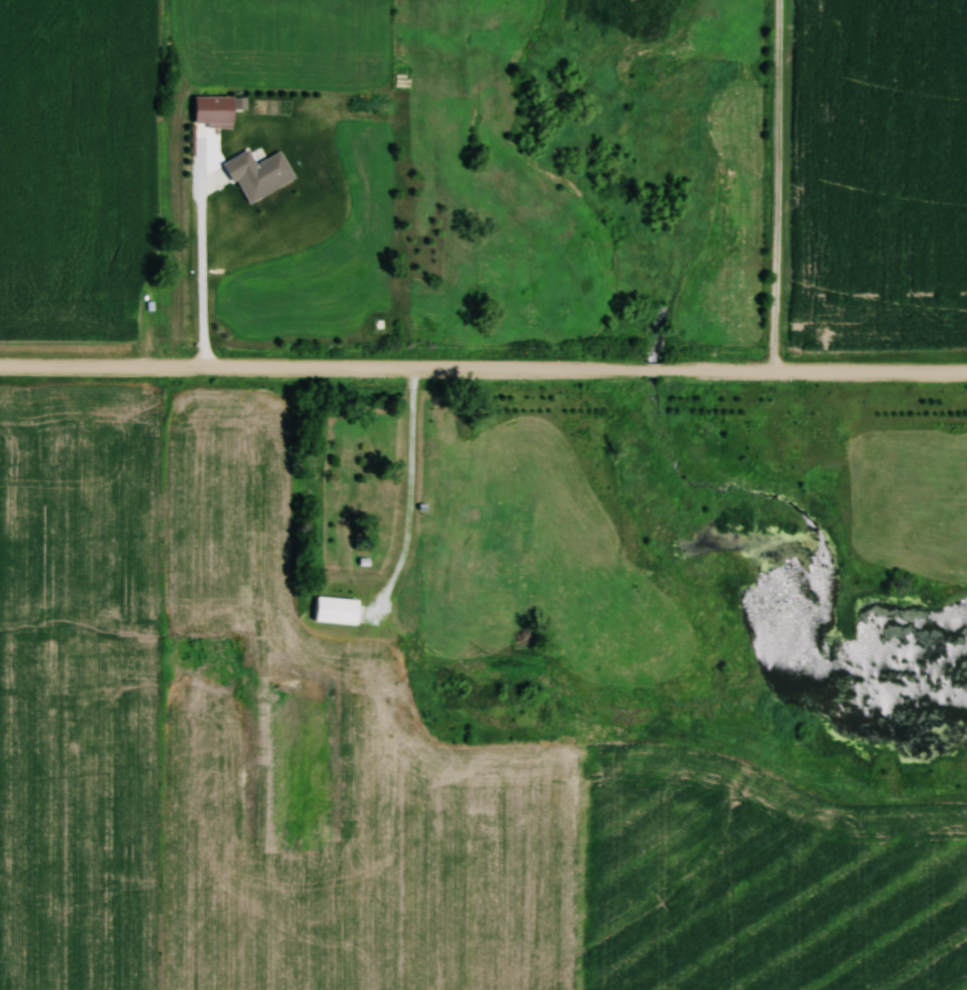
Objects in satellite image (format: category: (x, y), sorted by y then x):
road: (777, 187)
road: (483, 371)
road: (412, 486)
building: (336, 610)

